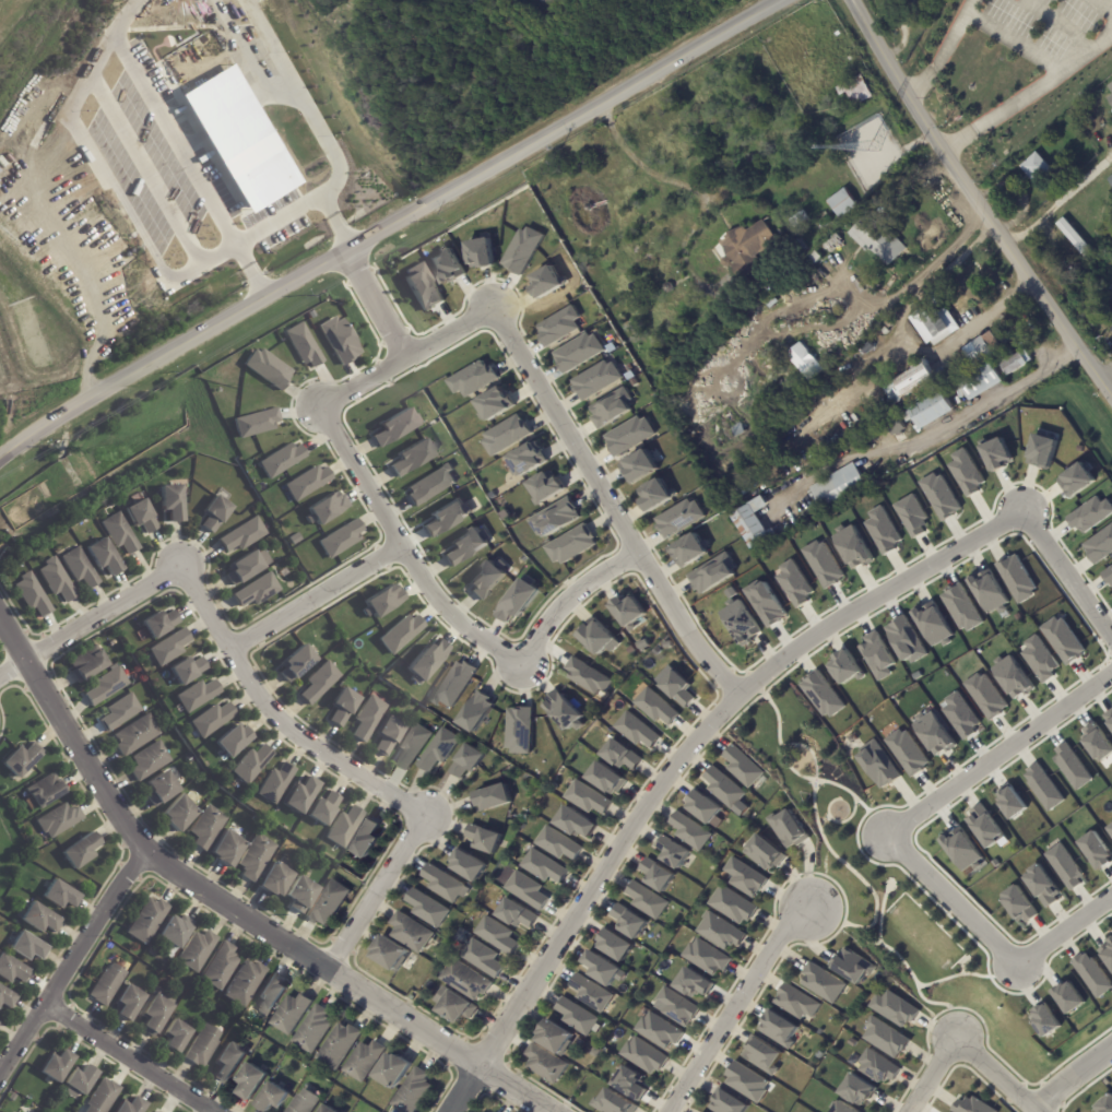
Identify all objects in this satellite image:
building: (914, 8)
road: (945, 50)
building: (1111, 87)
building: (856, 90)
road: (1028, 94)
building: (886, 103)
building: (226, 121)
road: (314, 121)
building: (896, 144)
road: (179, 149)
building: (1037, 167)
building: (1, 178)
building: (1111, 180)
building: (262, 181)
road: (697, 193)
road: (1060, 200)
building: (844, 203)
road: (977, 203)
building: (801, 218)
road: (390, 226)
building: (1064, 226)
building: (108, 238)
building: (878, 240)
building: (748, 247)
building: (521, 250)
building: (480, 253)
building: (814, 259)
building: (824, 264)
building: (447, 267)
building: (816, 279)
building: (545, 282)
building: (794, 282)
building: (422, 287)
building: (670, 287)
building: (771, 303)
road: (377, 304)
building: (937, 323)
building: (558, 326)
building: (880, 335)
building: (339, 340)
road: (904, 341)
building: (303, 345)
building: (983, 348)
building: (578, 352)
road: (407, 357)
building: (1016, 362)
building: (806, 363)
building: (268, 368)
building: (472, 378)
building: (595, 379)
building: (982, 380)
building: (919, 381)
building: (954, 394)
building: (779, 401)
building: (496, 403)
building: (840, 406)
building: (612, 407)
building: (931, 411)
building: (256, 422)
building: (393, 427)
building: (897, 427)
building: (738, 428)
road: (933, 433)
building: (506, 435)
building: (628, 435)
building: (1041, 451)
building: (996, 454)
building: (412, 457)
building: (281, 460)
building: (528, 460)
building: (639, 466)
building: (966, 473)
building: (1076, 481)
building: (308, 482)
building: (429, 485)
building: (546, 486)
building: (839, 486)
building: (654, 494)
building: (939, 496)
building: (173, 502)
road: (606, 506)
building: (328, 507)
building: (215, 513)
building: (1089, 514)
building: (142, 516)
building: (911, 516)
building: (445, 517)
building: (557, 517)
building: (678, 518)
building: (756, 524)
building: (882, 531)
building: (120, 534)
building: (244, 535)
building: (341, 540)
building: (466, 545)
building: (571, 545)
building: (1099, 545)
building: (852, 547)
building: (689, 549)
building: (104, 557)
building: (823, 564)
building: (80, 567)
building: (245, 568)
building: (712, 573)
building: (1108, 575)
building: (486, 578)
building: (56, 579)
building: (1016, 579)
building: (794, 584)
building: (258, 590)
building: (987, 591)
building: (31, 594)
road: (314, 599)
building: (518, 600)
building: (380, 601)
building: (765, 603)
building: (960, 608)
building: (628, 611)
road: (90, 618)
road: (449, 618)
building: (740, 622)
building: (159, 624)
building: (932, 624)
building: (400, 634)
building: (596, 638)
building: (904, 640)
building: (1063, 640)
building: (169, 648)
building: (876, 655)
building: (1039, 659)
building: (425, 661)
building: (87, 664)
building: (296, 664)
building: (844, 667)
building: (187, 671)
building: (587, 676)
building: (1012, 676)
building: (319, 683)
building: (454, 685)
building: (106, 687)
building: (677, 688)
building: (821, 694)
building: (197, 695)
building: (985, 696)
road: (736, 698)
building: (344, 707)
building: (655, 707)
building: (561, 710)
building: (119, 712)
building: (476, 712)
building: (960, 715)
road: (273, 717)
building: (1109, 717)
building: (369, 718)
building: (211, 719)
building: (519, 730)
building: (636, 731)
building: (933, 733)
building: (137, 735)
building: (389, 736)
building: (234, 741)
building: (1096, 742)
building: (413, 746)
building: (439, 750)
building: (907, 753)
building: (620, 755)
building: (22, 760)
building: (150, 761)
building: (466, 761)
building: (250, 764)
building: (878, 765)
building: (1070, 766)
building: (741, 767)
building: (606, 779)
building: (274, 782)
building: (722, 786)
building: (1042, 788)
building: (162, 789)
building: (45, 791)
building: (299, 795)
building: (493, 798)
building: (587, 798)
building: (1010, 802)
building: (702, 807)
building: (323, 809)
building: (179, 815)
building: (59, 820)
building: (576, 823)
building: (984, 826)
building: (208, 828)
building: (344, 828)
building: (786, 828)
building: (1110, 828)
building: (689, 831)
building: (367, 839)
building: (485, 839)
road: (892, 843)
building: (558, 844)
building: (961, 849)
building: (227, 850)
building: (1096, 851)
building: (81, 852)
building: (671, 852)
building: (764, 853)
building: (257, 857)
building: (468, 866)
building: (543, 866)
building: (1063, 866)
building: (655, 875)
building: (744, 878)
building: (276, 882)
building: (445, 885)
building: (1041, 886)
road: (372, 890)
building: (527, 890)
building: (301, 895)
building: (59, 897)
building: (646, 900)
building: (328, 903)
building: (1017, 904)
building: (731, 906)
building: (427, 909)
road: (229, 911)
building: (516, 914)
building: (39, 920)
building: (628, 921)
building: (146, 922)
building: (175, 932)
building: (720, 932)
building: (413, 934)
building: (496, 935)
building: (613, 945)
building: (26, 948)
building: (167, 951)
building: (197, 951)
building: (1108, 951)
building: (391, 956)
building: (705, 957)
building: (482, 958)
building: (852, 966)
building: (601, 968)
building: (220, 969)
road: (72, 970)
building: (12, 971)
building: (1091, 974)
building: (468, 981)
building: (694, 983)
building: (823, 983)
building: (245, 985)
building: (107, 986)
building: (589, 993)
building: (272, 996)
building: (1068, 997)
building: (5, 1001)
building: (795, 1003)
building: (129, 1004)
building: (675, 1006)
road: (732, 1006)
building: (458, 1008)
building: (894, 1008)
building: (294, 1015)
building: (155, 1017)
building: (576, 1017)
building: (1044, 1020)
building: (778, 1028)
building: (317, 1031)
building: (658, 1031)
building: (177, 1037)
building: (885, 1038)
building: (556, 1039)
building: (342, 1046)
building: (203, 1048)
road: (963, 1050)
building: (595, 1053)
building: (642, 1055)
building: (762, 1055)
road: (130, 1058)
building: (367, 1062)
building: (229, 1064)
building: (546, 1065)
building: (879, 1067)
building: (56, 1068)
building: (395, 1073)
road: (1072, 1079)
building: (628, 1083)
building: (746, 1083)
building: (79, 1084)
building: (252, 1084)
building: (857, 1090)
building: (415, 1092)
building: (103, 1097)
building: (274, 1099)
building: (306, 1102)
building: (611, 1103)
building: (726, 1103)
building: (970, 1105)
building: (1103, 1105)
building: (132, 1107)
building: (843, 1108)
building: (328, 1110)
building: (155, 1111)
building: (480, 1111)

